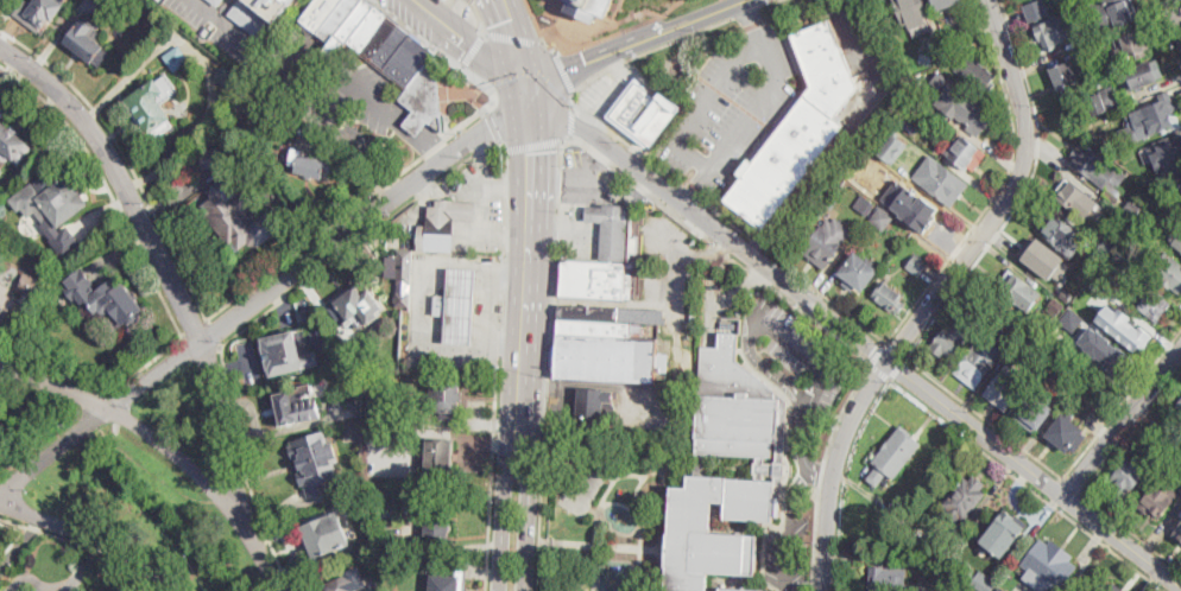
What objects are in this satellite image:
building: (217, 1)
road: (768, 1)
building: (1082, 1)
building: (946, 4)
building: (273, 7)
road: (223, 8)
building: (590, 8)
building: (1036, 8)
road: (747, 9)
building: (39, 12)
road: (1175, 12)
road: (750, 13)
building: (912, 13)
building: (1114, 13)
road: (705, 14)
road: (480, 18)
building: (252, 19)
road: (535, 20)
road: (227, 24)
traffic signals: (494, 25)
road: (621, 28)
road: (1168, 31)
building: (1055, 33)
road: (499, 38)
road: (514, 38)
building: (89, 42)
traffic signals: (470, 44)
road: (531, 46)
road: (549, 46)
building: (1131, 46)
road: (476, 49)
road: (473, 50)
building: (381, 52)
road: (642, 52)
building: (1091, 52)
road: (600, 55)
building: (177, 58)
traffic signals: (585, 62)
road: (564, 70)
building: (977, 74)
building: (229, 75)
building: (1142, 75)
building: (1065, 77)
road: (490, 85)
building: (250, 88)
road: (516, 94)
building: (244, 97)
building: (1104, 101)
road: (529, 102)
building: (154, 104)
road: (343, 104)
parking lot: (732, 104)
building: (970, 113)
building: (644, 114)
building: (1154, 117)
road: (570, 121)
building: (908, 123)
road: (493, 125)
building: (798, 129)
road: (845, 132)
building: (1114, 141)
road: (629, 142)
road: (532, 144)
building: (13, 145)
building: (893, 147)
traffic signals: (544, 151)
building: (964, 152)
building: (1167, 153)
road: (127, 158)
building: (207, 158)
road: (707, 165)
building: (312, 166)
building: (1098, 167)
parking lot: (588, 178)
building: (941, 182)
road: (476, 184)
road: (568, 184)
road: (696, 184)
road: (999, 184)
building: (1180, 185)
road: (109, 188)
road: (691, 191)
road: (1024, 192)
road: (1009, 193)
building: (1072, 195)
building: (832, 201)
building: (911, 204)
building: (55, 206)
building: (864, 206)
road: (577, 209)
building: (1133, 209)
building: (239, 214)
building: (1, 215)
road: (342, 215)
road: (728, 218)
building: (882, 218)
road: (592, 223)
building: (1122, 223)
building: (446, 224)
road: (481, 227)
road: (713, 227)
building: (612, 228)
gas station: (612, 229)
building: (1059, 230)
road: (504, 233)
building: (1177, 237)
road: (360, 242)
building: (827, 242)
road: (672, 244)
building: (1105, 248)
road: (554, 249)
road: (159, 254)
building: (1042, 258)
building: (1116, 263)
building: (917, 265)
road: (672, 269)
building: (859, 272)
building: (1169, 272)
building: (404, 278)
building: (594, 279)
building: (31, 285)
road: (819, 290)
building: (1019, 291)
building: (1067, 292)
road: (725, 297)
building: (105, 298)
building: (890, 298)
road: (257, 300)
gas station: (456, 304)
building: (460, 305)
building: (1155, 305)
building: (7, 306)
building: (1055, 306)
building: (359, 307)
building: (303, 317)
building: (1072, 318)
building: (1023, 326)
building: (1125, 326)
road: (195, 329)
building: (955, 333)
road: (214, 335)
road: (537, 342)
building: (604, 348)
road: (896, 348)
building: (1105, 348)
road: (513, 350)
parking lot: (801, 351)
road: (876, 352)
building: (290, 354)
building: (977, 363)
road: (147, 366)
road: (897, 366)
road: (765, 368)
road: (878, 369)
building: (1081, 371)
road: (56, 374)
building: (1006, 386)
road: (819, 387)
building: (447, 399)
building: (353, 402)
building: (733, 403)
road: (1120, 405)
building: (297, 406)
building: (598, 406)
building: (1179, 406)
road: (841, 409)
building: (1035, 412)
road: (984, 415)
road: (1123, 425)
road: (975, 428)
road: (1130, 428)
building: (1169, 432)
building: (1067, 436)
road: (168, 445)
building: (893, 455)
building: (391, 456)
road: (491, 458)
building: (440, 462)
building: (315, 463)
building: (768, 468)
road: (832, 468)
road: (245, 471)
road: (819, 474)
building: (1126, 476)
road: (613, 477)
road: (844, 478)
road: (1025, 484)
road: (1071, 484)
park: (582, 485)
road: (1053, 488)
building: (581, 494)
building: (966, 497)
building: (1160, 498)
road: (661, 502)
road: (1073, 503)
road: (600, 504)
building: (391, 507)
road: (636, 508)
building: (359, 510)
building: (892, 514)
building: (438, 523)
road: (789, 525)
building: (327, 529)
building: (1003, 530)
road: (1130, 530)
building: (701, 535)
building: (1177, 535)
road: (91, 536)
road: (814, 539)
road: (600, 544)
building: (928, 544)
road: (1123, 544)
road: (83, 545)
parking lot: (784, 554)
building: (1049, 566)
road: (595, 567)
road: (76, 571)
road: (27, 577)
road: (632, 577)
building: (889, 579)
building: (348, 582)
building: (450, 582)
building: (984, 583)
building: (1116, 585)
building: (1002, 589)
road: (43, 590)
building: (737, 590)

